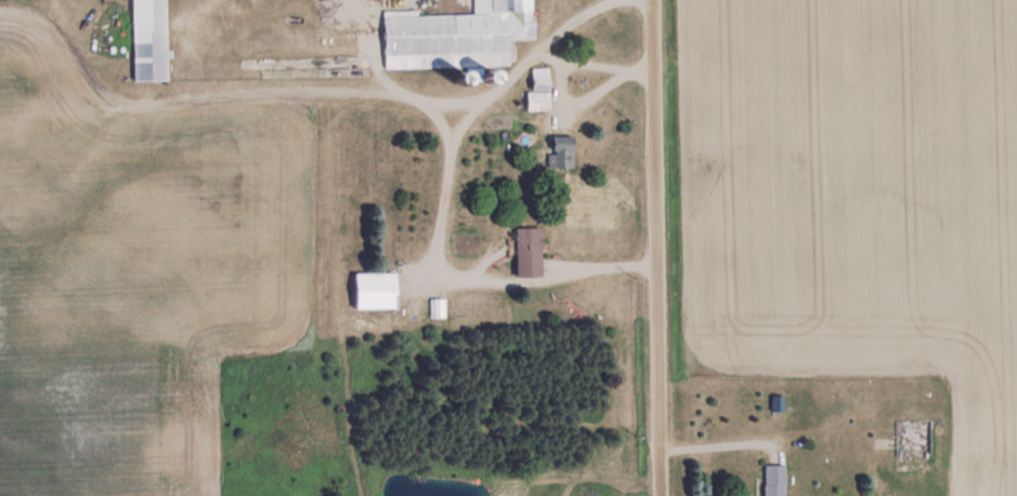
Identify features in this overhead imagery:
building: (456, 37)
building: (149, 39)
building: (538, 89)
building: (561, 151)
road: (664, 247)
building: (528, 250)
building: (374, 289)
building: (912, 443)
building: (773, 479)

